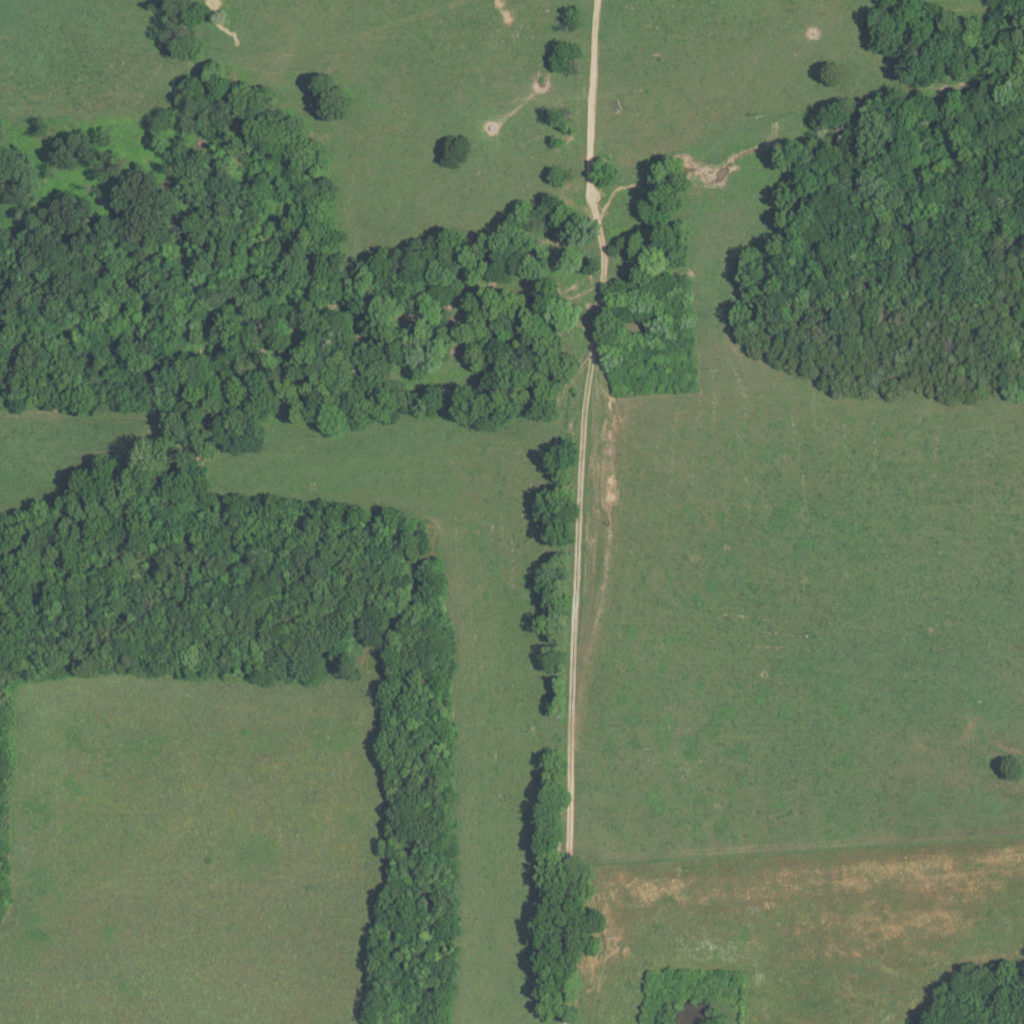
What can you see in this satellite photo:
road: (607, 513)

